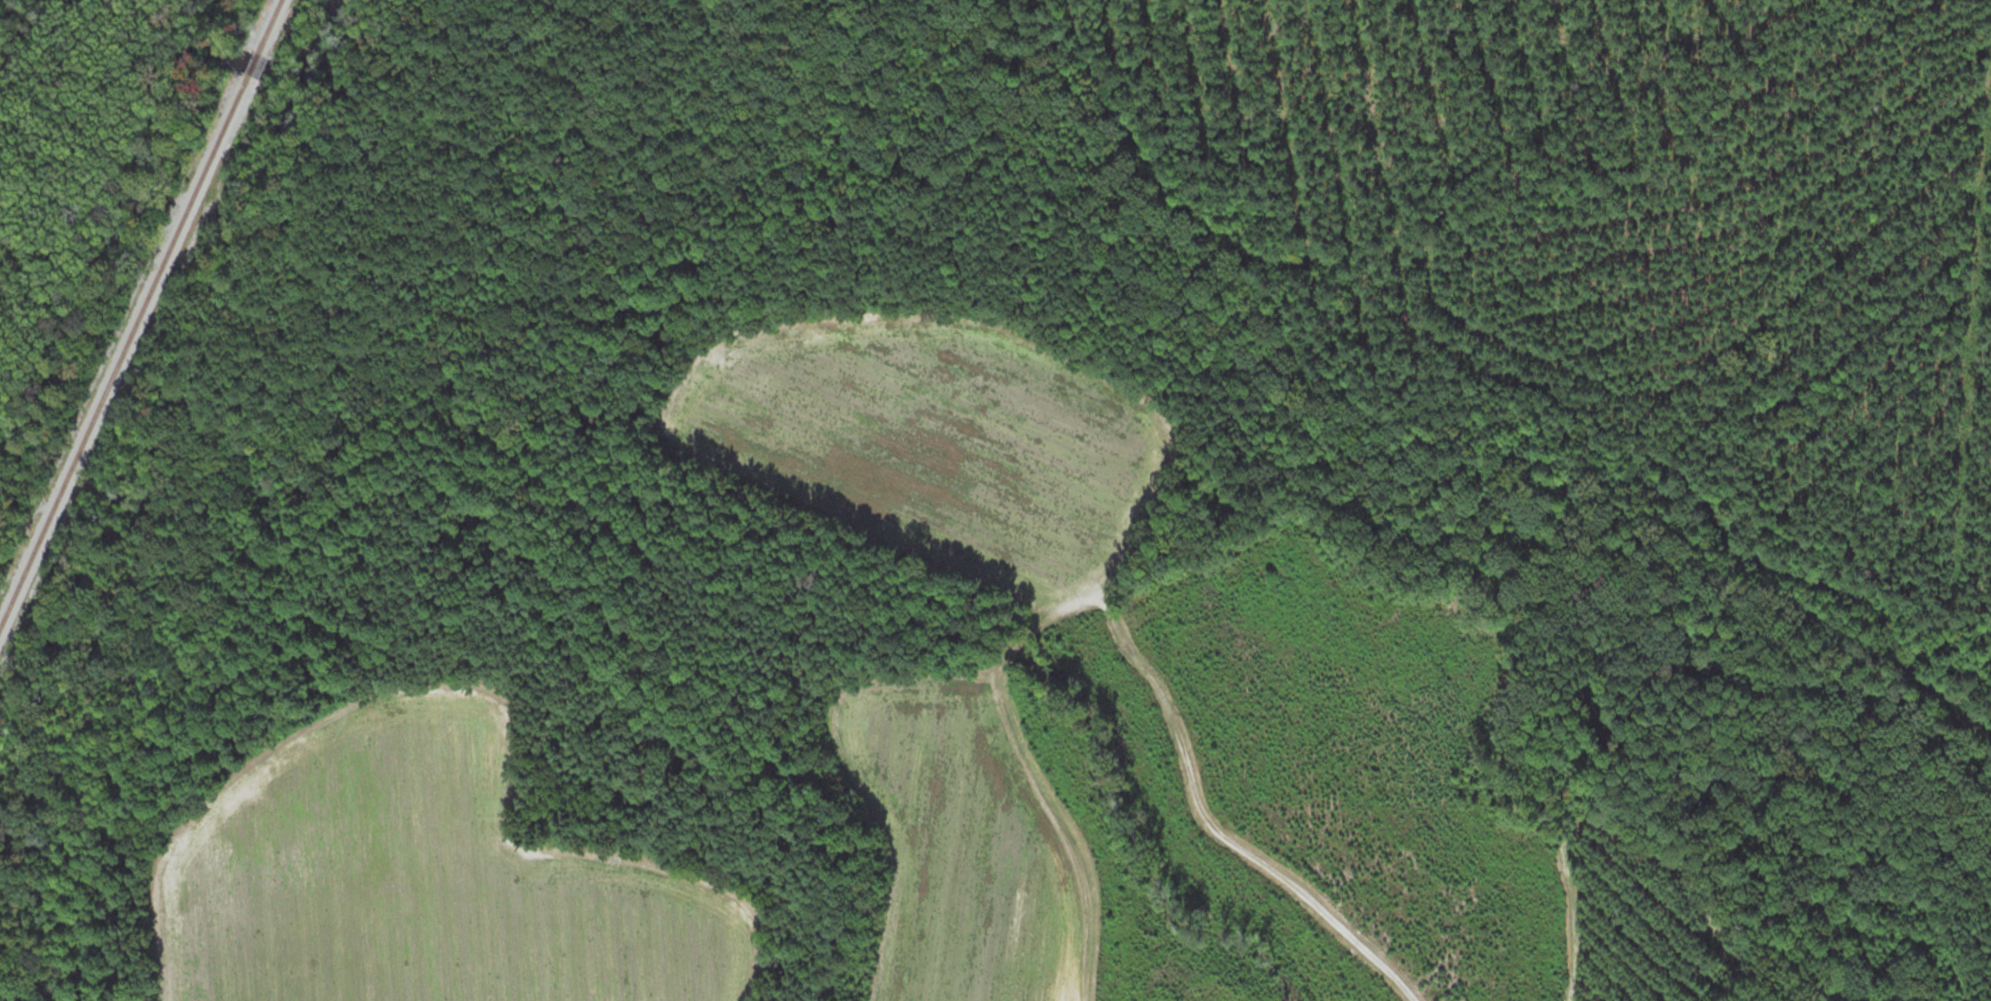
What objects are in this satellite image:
railway: (269, 26)
railway: (253, 63)
railway: (124, 350)

